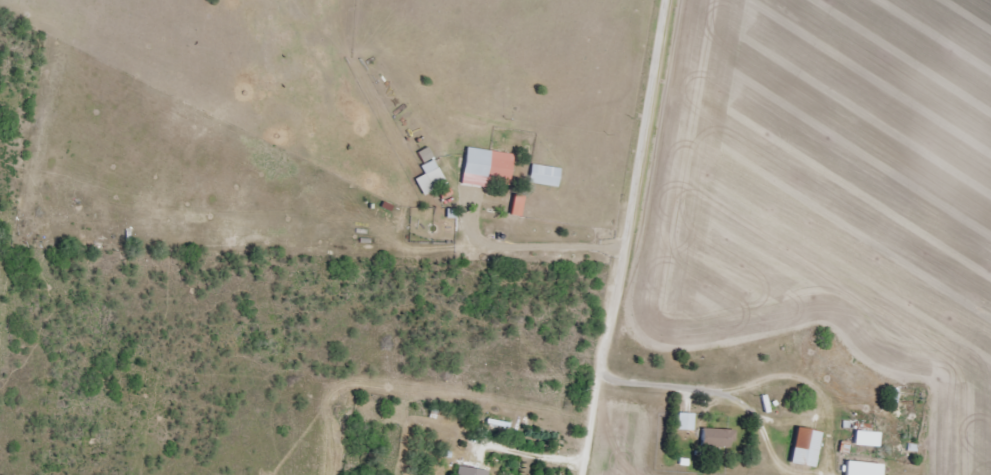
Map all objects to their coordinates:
building: (486, 168)
building: (544, 176)
building: (430, 178)
road: (606, 237)
building: (686, 422)
building: (716, 438)
building: (866, 439)
building: (804, 448)
building: (471, 471)

